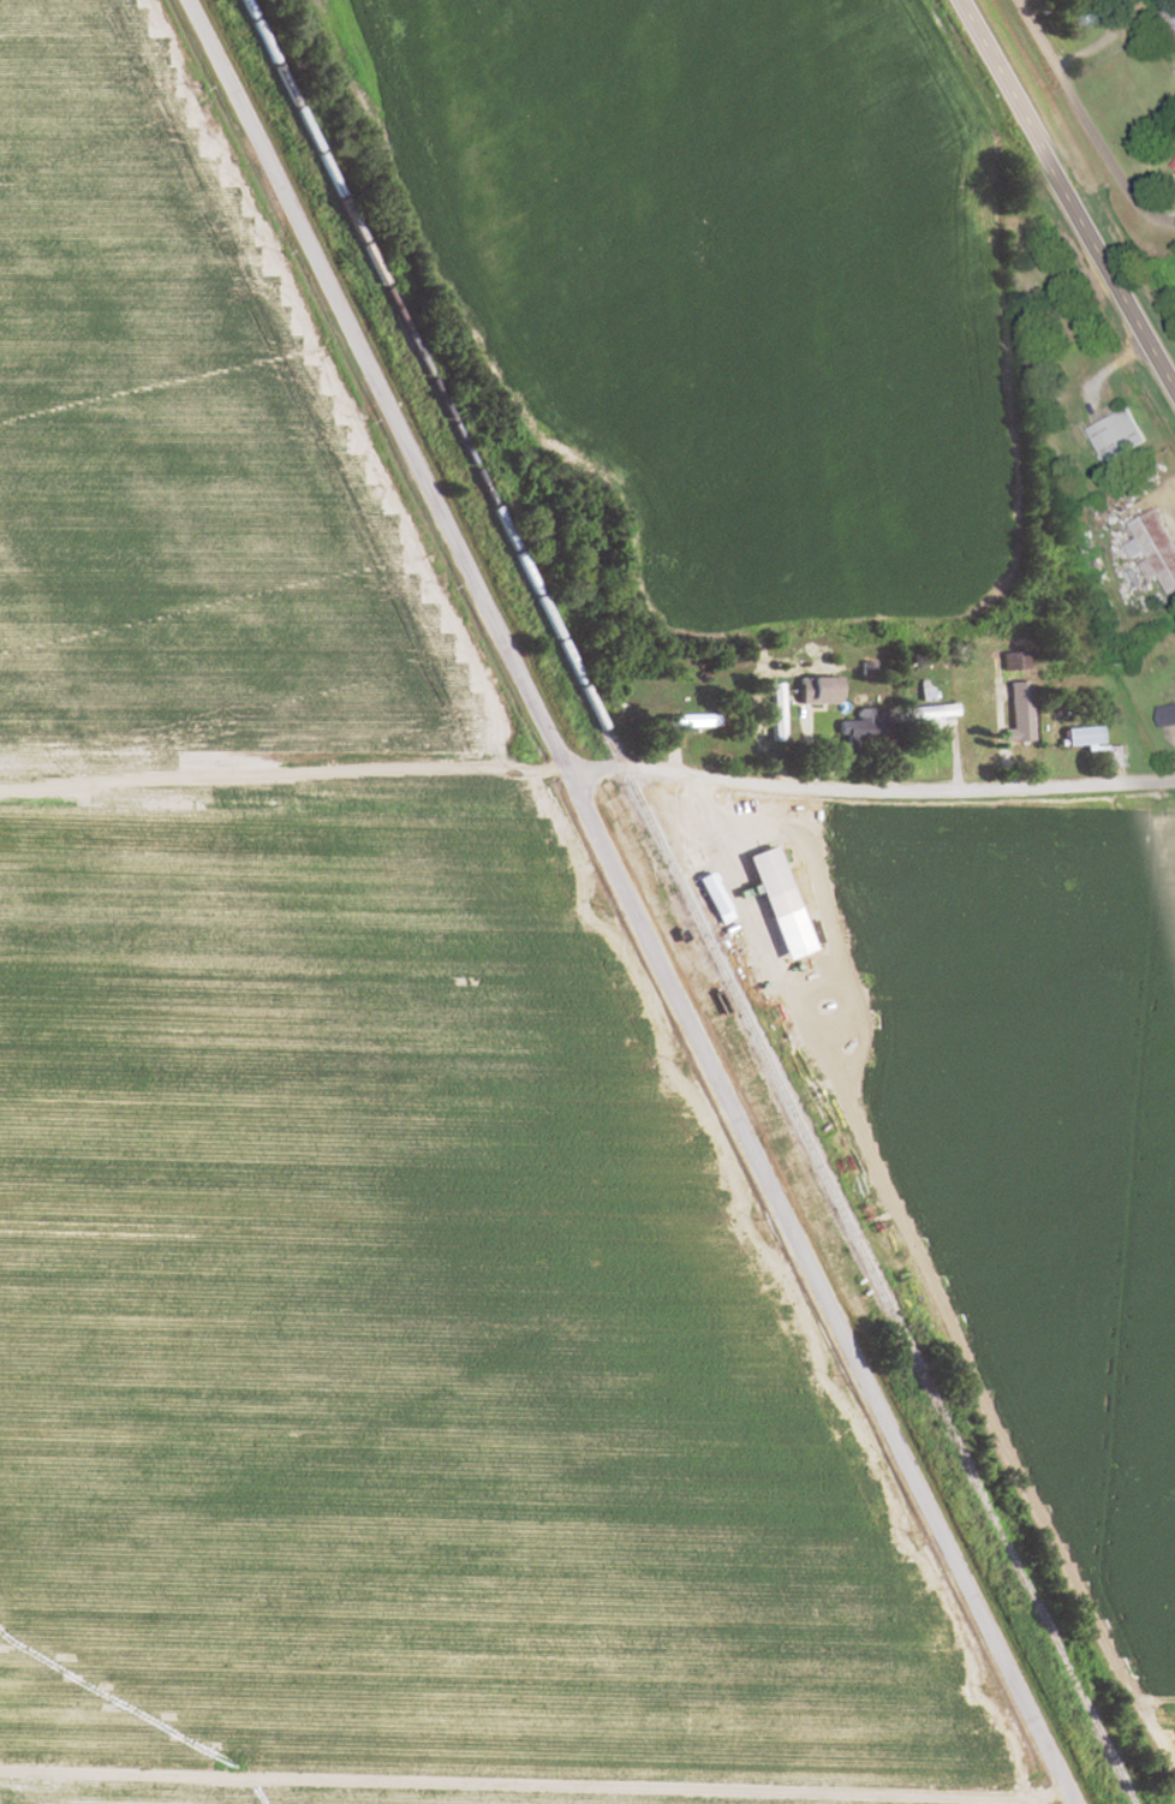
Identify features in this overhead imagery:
road: (1068, 103)
building: (1173, 165)
road: (1064, 196)
road: (1155, 213)
building: (1113, 436)
building: (1152, 550)
building: (1013, 661)
building: (811, 690)
building: (925, 712)
building: (1018, 712)
building: (771, 713)
building: (1163, 715)
building: (682, 721)
building: (854, 730)
building: (1080, 736)
building: (1111, 756)
road: (278, 775)
road: (865, 788)
building: (763, 882)
building: (708, 898)
road: (620, 901)
railway: (682, 901)
road: (813, 1056)
road: (530, 1784)

